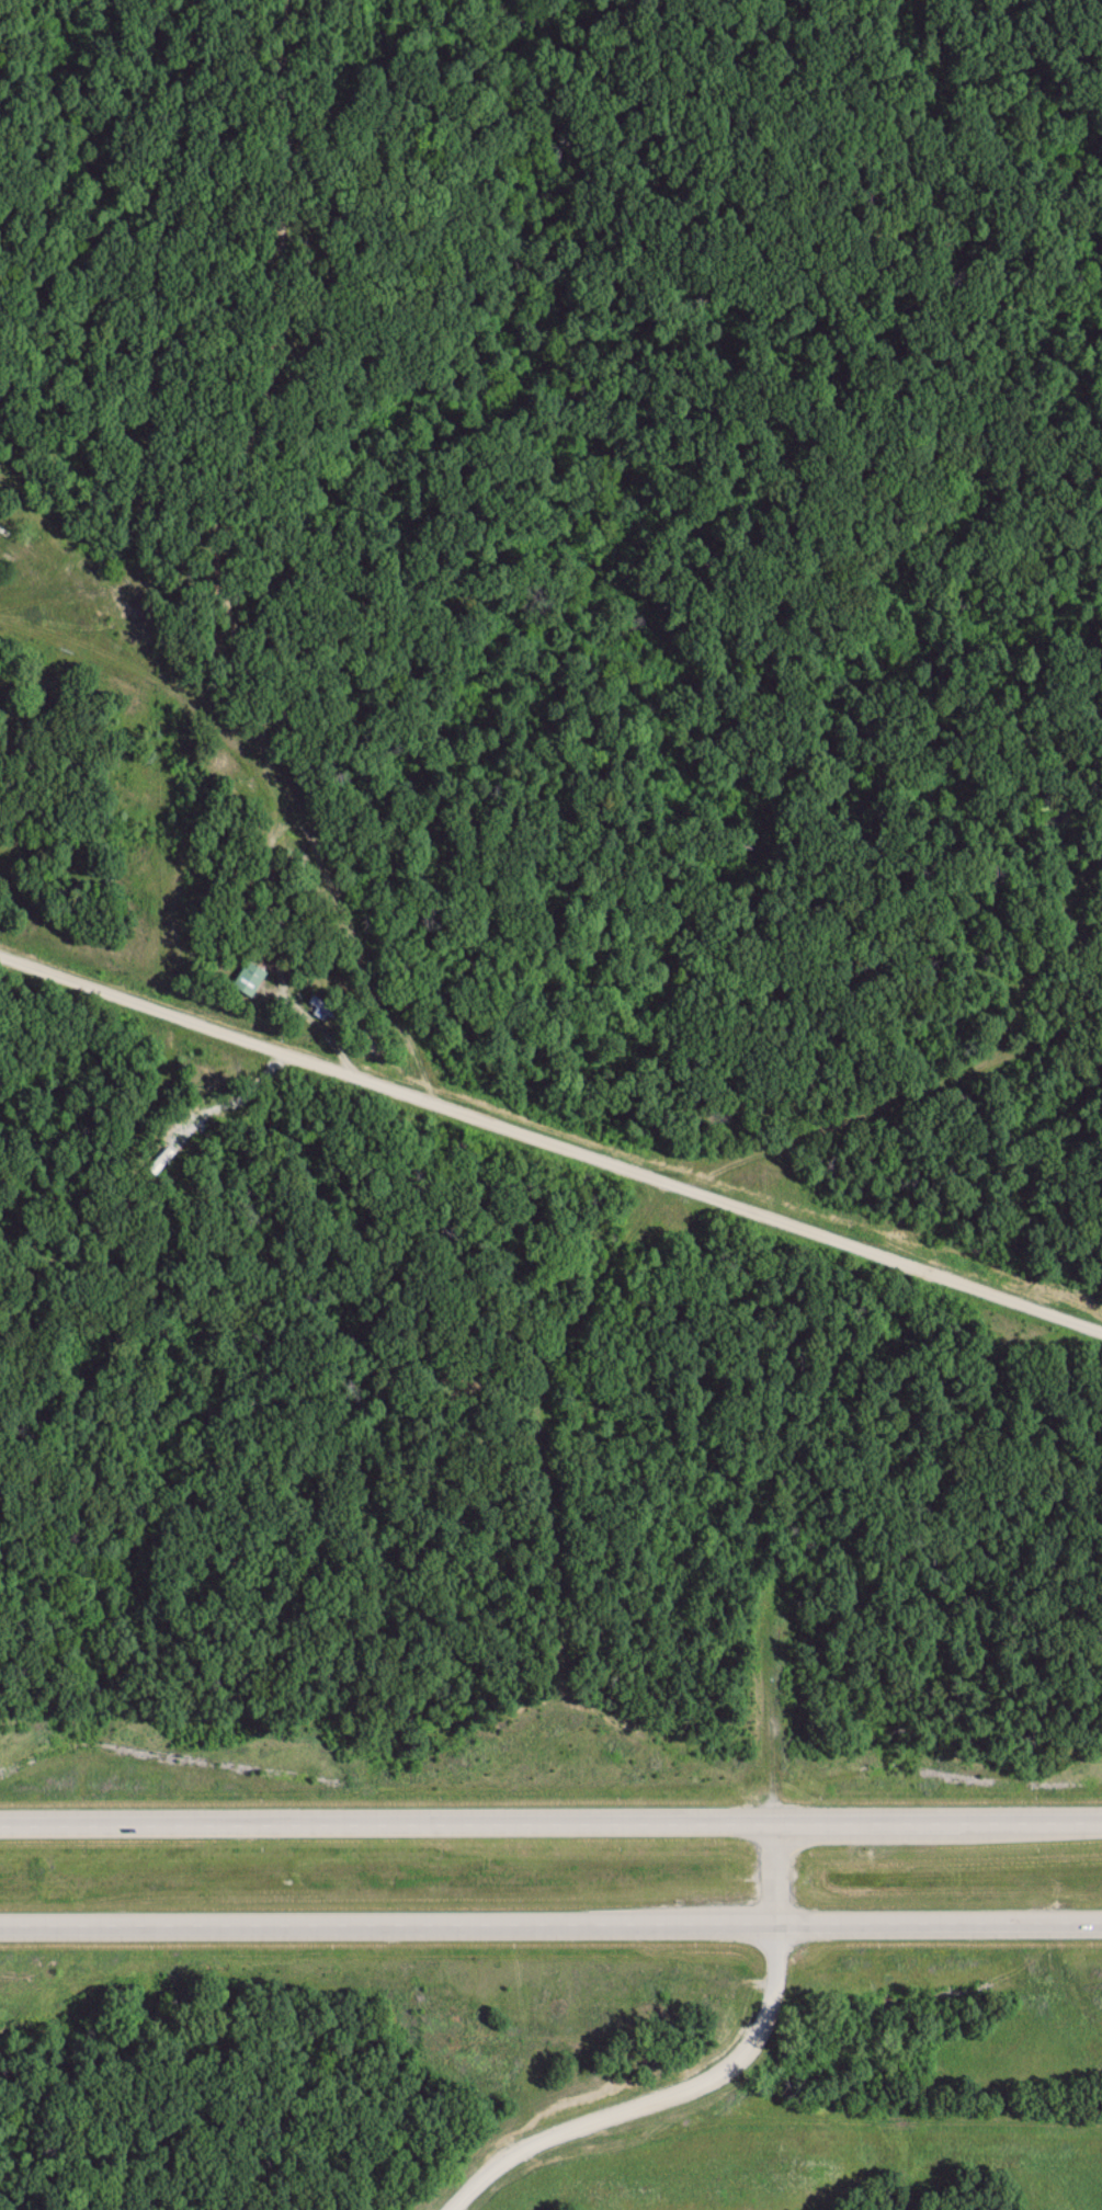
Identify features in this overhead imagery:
building: (253, 980)
road: (550, 1142)
road: (550, 1823)
road: (550, 1923)
road: (769, 2006)

